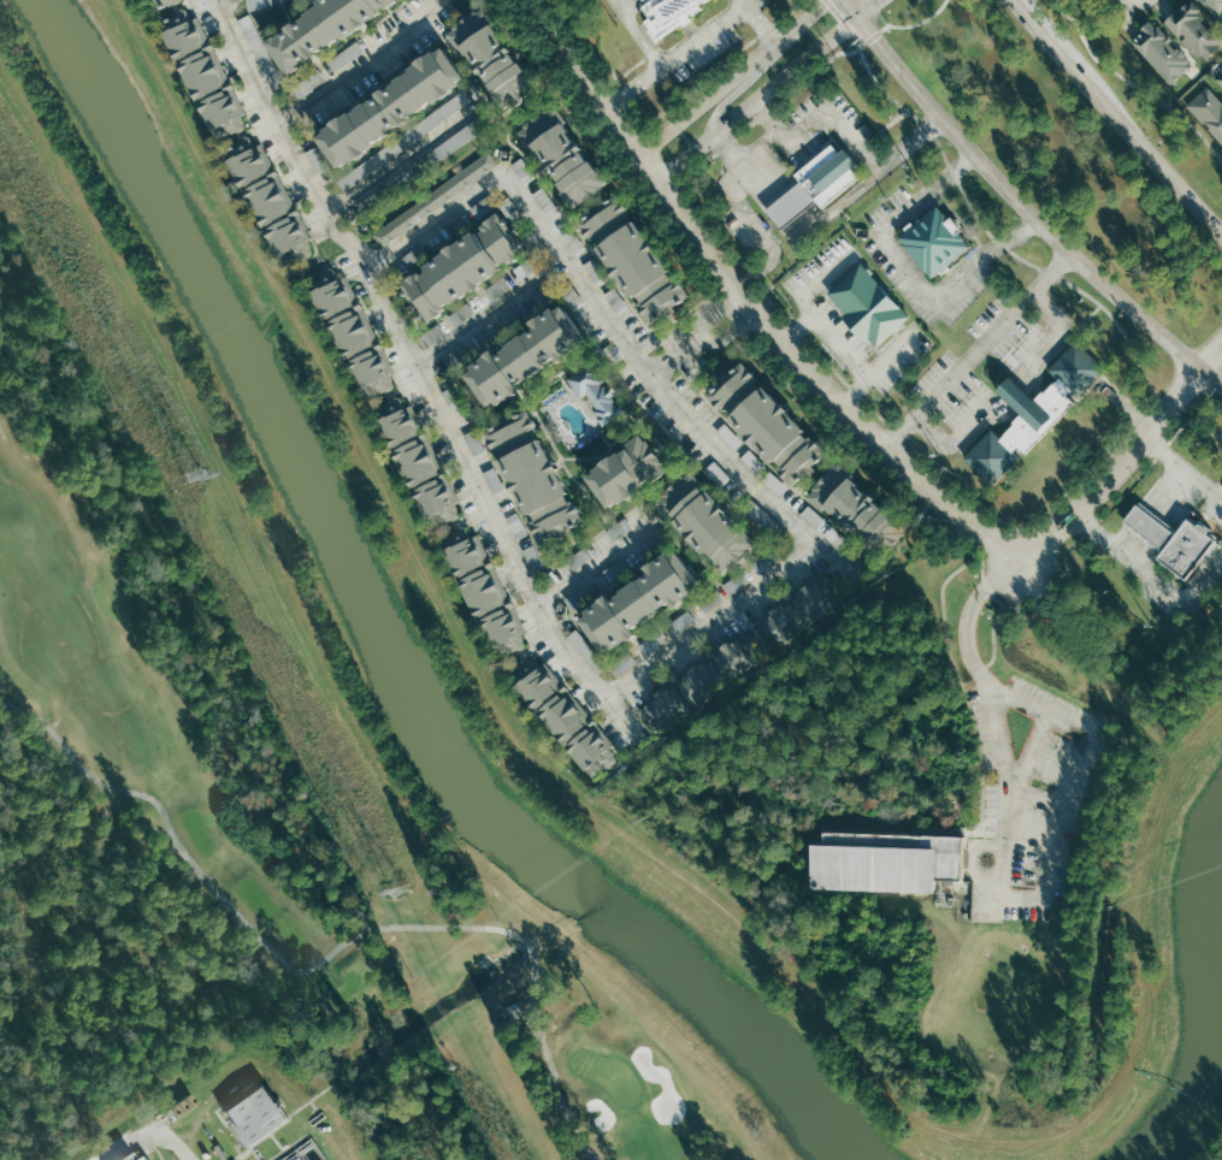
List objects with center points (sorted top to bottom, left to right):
road: (220, 0)
building: (647, 1)
road: (626, 2)
building: (158, 5)
road: (633, 5)
building: (1215, 6)
road: (281, 7)
road: (752, 8)
road: (869, 10)
building: (668, 14)
road: (382, 18)
traffic signals: (858, 19)
road: (254, 22)
building: (319, 29)
road: (904, 29)
road: (768, 30)
building: (1194, 30)
road: (640, 32)
parking lot: (715, 32)
road: (704, 34)
road: (338, 48)
building: (1161, 51)
building: (495, 57)
road: (360, 66)
building: (205, 71)
road: (389, 75)
road: (300, 77)
building: (1220, 77)
road: (733, 82)
road: (1133, 82)
building: (307, 83)
road: (631, 87)
road: (473, 88)
road: (757, 99)
building: (392, 105)
road: (720, 105)
building: (1209, 107)
road: (427, 111)
road: (662, 114)
road: (1117, 119)
road: (836, 120)
road: (771, 122)
parking lot: (819, 125)
road: (910, 143)
building: (565, 155)
road: (745, 155)
road: (403, 158)
building: (523, 168)
building: (826, 174)
road: (946, 177)
building: (267, 196)
building: (436, 199)
road: (1021, 203)
building: (791, 205)
road: (744, 213)
road: (568, 220)
road: (807, 221)
building: (934, 241)
road: (1000, 242)
road: (1008, 243)
building: (633, 258)
parking lot: (899, 262)
building: (464, 267)
road: (909, 271)
road: (755, 273)
road: (1049, 274)
building: (616, 298)
road: (755, 302)
building: (868, 303)
parking lot: (817, 304)
road: (490, 309)
road: (716, 312)
building: (461, 314)
road: (679, 315)
road: (612, 320)
road: (798, 325)
road: (730, 331)
building: (353, 333)
road: (832, 336)
road: (976, 349)
building: (525, 354)
road: (674, 357)
road: (1211, 357)
parking lot: (984, 360)
road: (825, 361)
road: (421, 371)
road: (562, 380)
road: (610, 384)
road: (536, 387)
road: (1004, 387)
road: (858, 389)
road: (610, 391)
building: (597, 393)
building: (1014, 395)
road: (631, 407)
road: (537, 409)
building: (1037, 413)
road: (626, 418)
road: (621, 421)
building: (768, 424)
road: (907, 424)
road: (831, 425)
road: (603, 437)
road: (657, 442)
building: (476, 443)
road: (663, 445)
road: (606, 451)
road: (758, 455)
road: (1177, 460)
building: (417, 461)
road: (561, 462)
road: (1112, 468)
building: (625, 473)
power tower: (194, 474)
building: (535, 475)
road: (669, 475)
building: (775, 483)
road: (1217, 492)
parking lot: (1212, 504)
building: (860, 510)
road: (1155, 511)
building: (707, 522)
building: (1152, 528)
road: (1110, 543)
building: (1188, 549)
building: (579, 557)
road: (596, 564)
building: (480, 587)
parking lot: (1180, 587)
road: (600, 590)
road: (1189, 598)
building: (642, 600)
building: (713, 600)
building: (801, 610)
road: (967, 612)
road: (712, 620)
road: (994, 650)
building: (622, 664)
building: (707, 681)
road: (968, 693)
road: (2, 700)
building: (565, 718)
road: (1000, 730)
road: (1061, 788)
parking lot: (1032, 792)
road: (1010, 800)
park: (289, 835)
road: (975, 857)
building: (886, 859)
power tower: (401, 889)
road: (325, 955)
wastewater plant: (208, 1029)
building: (266, 1113)
road: (149, 1140)
building: (143, 1155)

